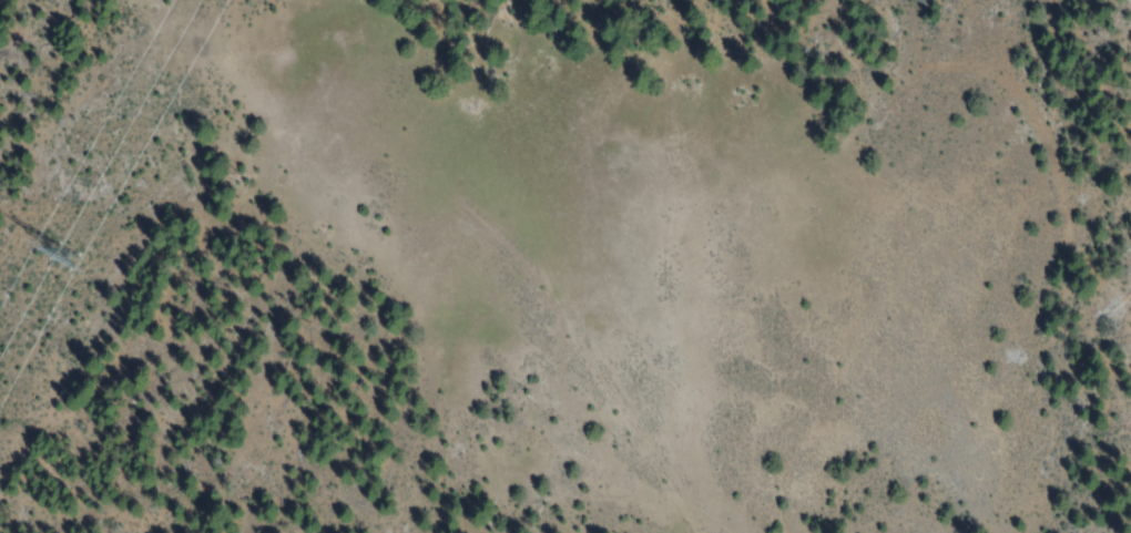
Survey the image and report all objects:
power tower: (53, 270)

